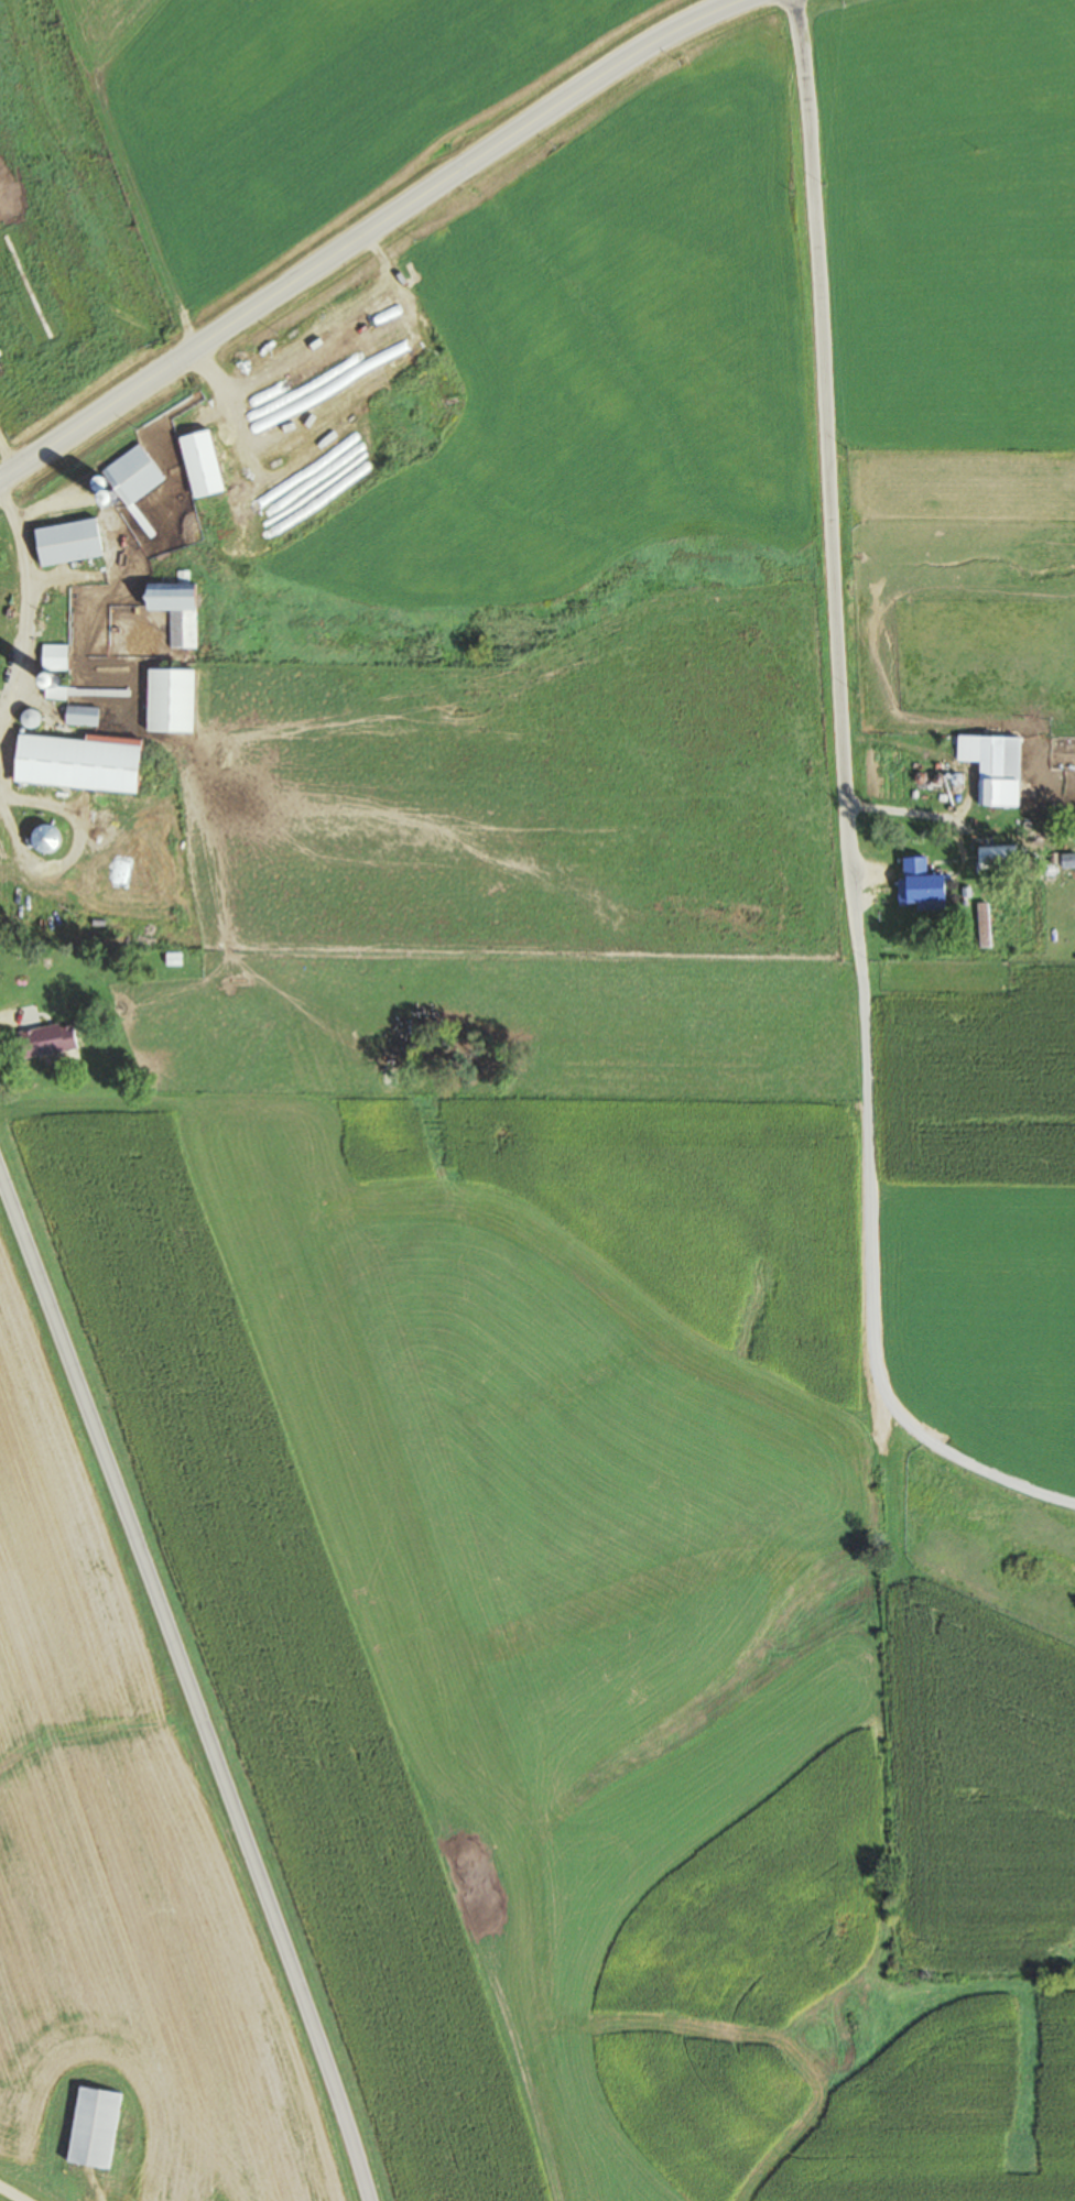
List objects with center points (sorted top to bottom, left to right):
road: (368, 228)
building: (196, 462)
building: (129, 473)
building: (64, 541)
building: (172, 609)
building: (0, 625)
building: (52, 656)
road: (837, 677)
building: (166, 700)
building: (79, 715)
building: (74, 764)
building: (997, 771)
building: (995, 858)
building: (913, 879)
building: (44, 1039)
road: (952, 1453)
road: (188, 1688)
building: (91, 2127)
road: (14, 2192)

